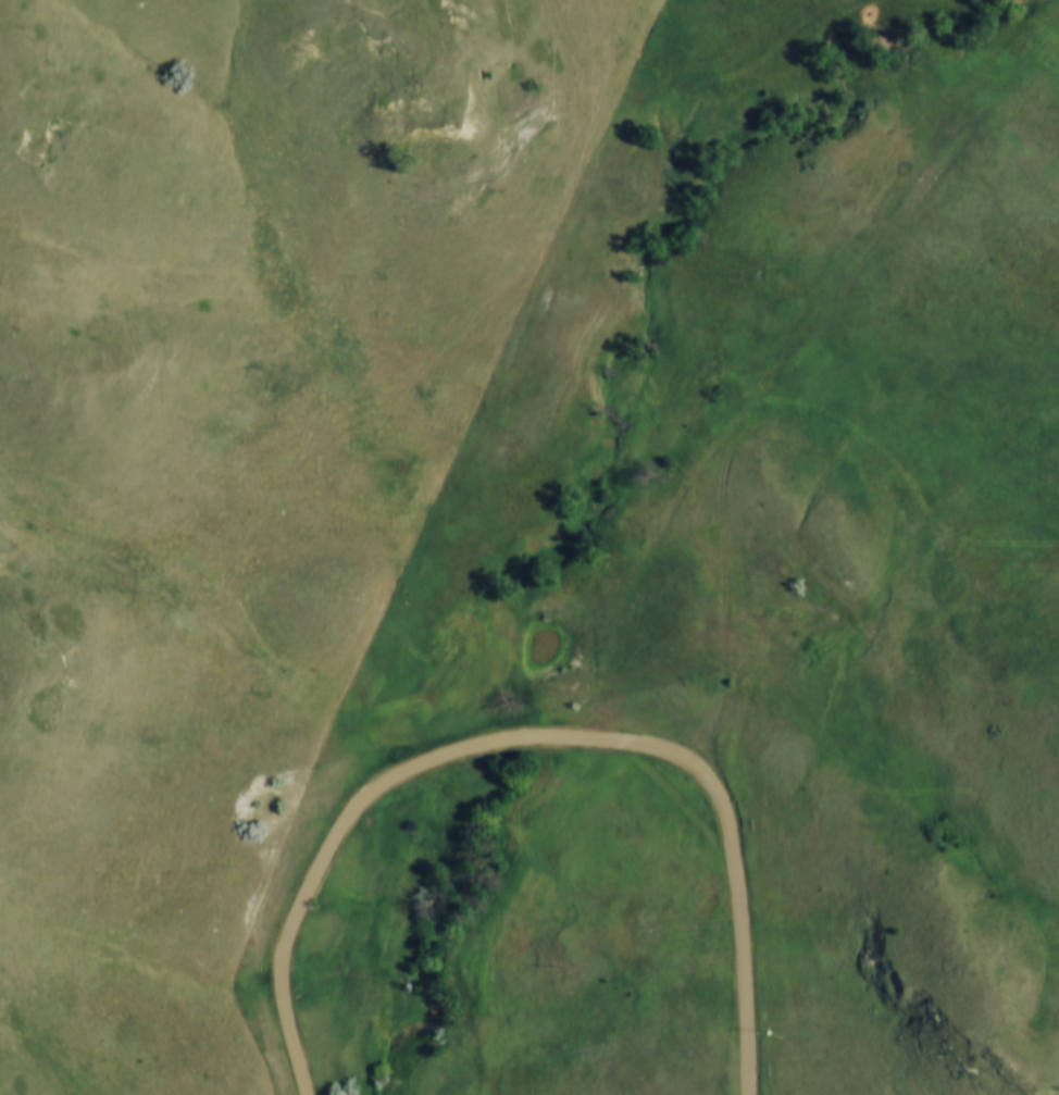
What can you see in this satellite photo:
road: (539, 734)

